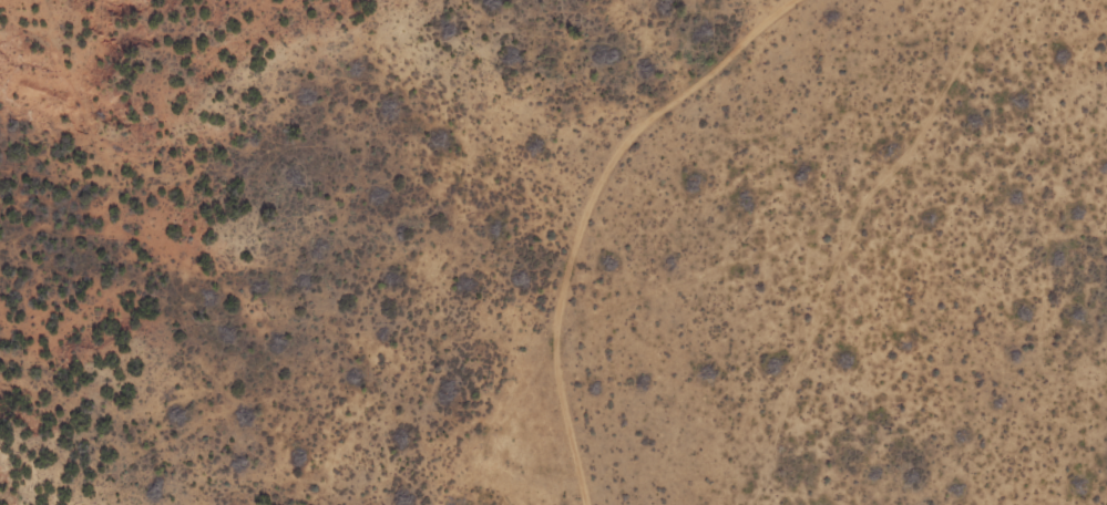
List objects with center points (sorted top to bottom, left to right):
road: (553, 208)

